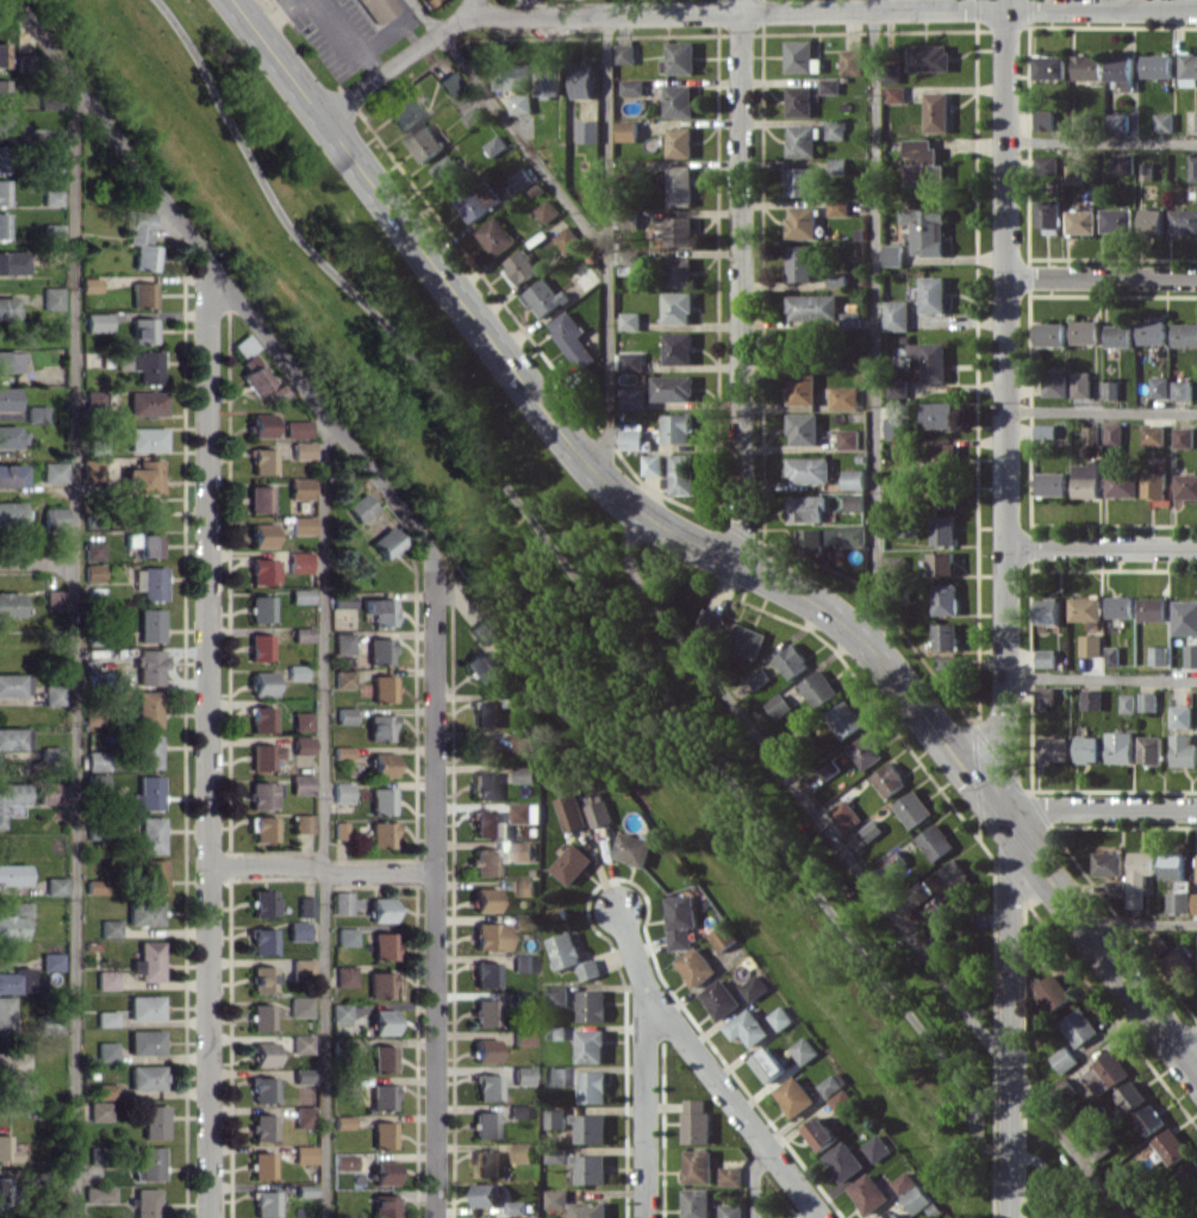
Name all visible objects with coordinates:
road: (1141, 4)
road: (472, 7)
building: (378, 8)
road: (742, 11)
road: (276, 15)
road: (351, 38)
building: (625, 52)
building: (2, 54)
building: (800, 56)
building: (679, 57)
building: (929, 57)
building: (852, 61)
building: (21, 62)
building: (1157, 65)
building: (1049, 67)
building: (1089, 67)
building: (1189, 69)
building: (1122, 70)
building: (512, 75)
building: (548, 79)
building: (581, 80)
building: (449, 82)
building: (632, 86)
building: (830, 86)
building: (2, 90)
building: (894, 93)
building: (679, 100)
building: (799, 100)
building: (520, 102)
building: (937, 111)
building: (404, 112)
building: (473, 115)
building: (1045, 119)
building: (1196, 120)
building: (1120, 121)
building: (1164, 121)
building: (4, 125)
road: (509, 127)
building: (836, 129)
building: (628, 130)
building: (588, 131)
building: (802, 140)
building: (680, 142)
building: (423, 143)
road: (1102, 143)
building: (1049, 162)
building: (0, 163)
building: (922, 163)
building: (1122, 163)
building: (837, 165)
building: (1192, 168)
building: (1146, 170)
building: (448, 173)
building: (1074, 174)
building: (520, 179)
building: (800, 181)
building: (680, 185)
building: (2, 190)
building: (51, 198)
building: (475, 201)
building: (838, 207)
building: (547, 211)
building: (1049, 213)
building: (1117, 219)
building: (1183, 219)
building: (1152, 220)
building: (803, 221)
building: (1081, 221)
building: (4, 225)
building: (51, 230)
building: (677, 230)
building: (927, 230)
building: (495, 236)
building: (566, 239)
building: (142, 241)
road: (607, 251)
building: (893, 254)
building: (12, 262)
building: (800, 262)
building: (629, 264)
building: (520, 266)
building: (679, 271)
road: (1102, 277)
building: (837, 279)
road: (224, 280)
road: (741, 280)
building: (89, 285)
building: (142, 294)
building: (934, 294)
building: (51, 298)
building: (544, 298)
building: (8, 307)
building: (678, 307)
building: (812, 307)
building: (899, 314)
building: (850, 319)
building: (630, 320)
building: (96, 321)
building: (142, 330)
building: (1085, 331)
road: (874, 332)
building: (1152, 332)
building: (1051, 333)
building: (1118, 335)
building: (1185, 335)
building: (572, 338)
building: (243, 344)
building: (678, 348)
building: (931, 360)
building: (7, 361)
building: (632, 361)
building: (141, 364)
building: (254, 374)
building: (1080, 383)
building: (1054, 385)
building: (673, 387)
building: (1159, 387)
building: (802, 388)
building: (1111, 389)
building: (1182, 389)
building: (7, 398)
building: (632, 398)
building: (844, 398)
building: (93, 399)
building: (145, 402)
road: (1103, 411)
building: (36, 413)
building: (940, 414)
building: (261, 424)
building: (894, 426)
building: (297, 427)
building: (677, 427)
building: (803, 429)
building: (1045, 430)
building: (1114, 433)
building: (1090, 435)
building: (1151, 435)
building: (11, 436)
building: (1184, 437)
building: (145, 438)
building: (631, 438)
building: (848, 438)
building: (301, 450)
building: (943, 457)
building: (262, 461)
building: (652, 464)
building: (91, 469)
building: (809, 469)
building: (52, 471)
building: (680, 474)
building: (11, 475)
building: (142, 477)
building: (854, 479)
building: (1085, 480)
building: (1051, 483)
building: (1122, 483)
building: (1186, 486)
building: (300, 487)
building: (258, 498)
building: (854, 501)
building: (360, 506)
building: (806, 508)
building: (11, 512)
building: (149, 512)
building: (54, 518)
building: (300, 524)
building: (943, 530)
building: (261, 535)
building: (829, 537)
building: (386, 542)
building: (145, 543)
road: (1103, 543)
road: (706, 544)
building: (93, 550)
road: (37, 561)
building: (299, 561)
building: (896, 562)
building: (942, 562)
building: (261, 570)
building: (93, 571)
building: (149, 582)
building: (300, 595)
building: (946, 598)
building: (54, 599)
building: (343, 600)
building: (10, 604)
building: (1120, 606)
building: (1085, 607)
building: (261, 608)
road: (1009, 608)
building: (1153, 608)
building: (380, 611)
building: (1047, 611)
building: (1185, 617)
road: (607, 619)
building: (710, 622)
building: (149, 624)
building: (482, 630)
building: (301, 633)
building: (946, 637)
building: (746, 639)
building: (342, 642)
building: (1090, 645)
building: (260, 647)
road: (74, 650)
building: (379, 650)
building: (1111, 655)
building: (1158, 655)
building: (1191, 655)
building: (1046, 657)
building: (791, 660)
building: (947, 661)
building: (148, 666)
building: (479, 666)
building: (295, 672)
road: (1103, 676)
building: (343, 677)
building: (758, 677)
building: (262, 682)
building: (13, 683)
building: (382, 688)
building: (818, 688)
building: (52, 694)
building: (1043, 695)
building: (1091, 699)
building: (1147, 701)
building: (1127, 702)
building: (778, 705)
building: (146, 707)
building: (486, 712)
building: (344, 716)
building: (1179, 716)
building: (261, 718)
building: (843, 718)
building: (301, 720)
building: (379, 726)
building: (13, 737)
road: (206, 737)
building: (525, 741)
building: (301, 744)
building: (1120, 747)
building: (484, 749)
building: (1054, 749)
building: (1089, 749)
building: (1151, 749)
building: (865, 750)
building: (1183, 750)
building: (146, 751)
building: (49, 752)
building: (341, 752)
building: (263, 755)
building: (95, 760)
building: (381, 764)
building: (524, 774)
building: (889, 779)
building: (94, 782)
building: (300, 783)
building: (485, 785)
building: (342, 792)
building: (46, 793)
building: (145, 793)
building: (12, 794)
building: (260, 795)
building: (381, 800)
building: (597, 808)
building: (912, 808)
road: (1097, 810)
building: (525, 812)
building: (571, 812)
road: (322, 814)
building: (844, 814)
building: (303, 823)
building: (485, 823)
building: (262, 827)
building: (338, 830)
building: (872, 830)
building: (381, 833)
building: (148, 835)
building: (935, 842)
building: (634, 849)
building: (500, 855)
building: (572, 863)
building: (1108, 863)
building: (1173, 866)
road: (319, 868)
road: (859, 870)
building: (12, 874)
building: (151, 875)
building: (1139, 876)
building: (948, 879)
building: (54, 886)
building: (94, 886)
building: (524, 887)
building: (1115, 888)
road: (434, 891)
building: (485, 899)
building: (344, 901)
building: (1178, 901)
building: (262, 902)
building: (1195, 902)
building: (304, 906)
building: (380, 908)
building: (143, 912)
building: (680, 919)
building: (13, 920)
building: (522, 922)
road: (1140, 924)
building: (108, 927)
building: (297, 930)
building: (490, 935)
building: (345, 936)
building: (723, 937)
building: (262, 941)
building: (1158, 944)
building: (382, 945)
building: (572, 955)
building: (148, 960)
building: (50, 961)
building: (522, 962)
building: (1177, 963)
building: (696, 966)
building: (301, 967)
building: (486, 974)
building: (344, 975)
building: (105, 979)
building: (261, 979)
building: (14, 980)
building: (379, 983)
building: (754, 987)
building: (1053, 991)
building: (556, 995)
building: (721, 998)
building: (592, 1005)
building: (144, 1006)
building: (299, 1006)
building: (5, 1011)
building: (339, 1012)
building: (486, 1012)
building: (261, 1017)
building: (780, 1017)
building: (105, 1018)
building: (382, 1022)
building: (1078, 1026)
building: (747, 1028)
building: (556, 1032)
building: (522, 1037)
road: (1184, 1038)
building: (144, 1041)
building: (300, 1043)
building: (591, 1045)
building: (485, 1049)
building: (105, 1050)
building: (804, 1050)
building: (263, 1054)
building: (382, 1057)
building: (1064, 1058)
road: (644, 1062)
building: (12, 1064)
building: (767, 1064)
building: (1110, 1067)
building: (522, 1074)
building: (301, 1075)
building: (555, 1075)
building: (145, 1076)
building: (831, 1083)
building: (592, 1086)
building: (487, 1087)
building: (20, 1088)
building: (262, 1088)
building: (105, 1089)
building: (794, 1095)
building: (1130, 1095)
building: (382, 1097)
building: (841, 1099)
road: (732, 1100)
building: (98, 1110)
building: (518, 1111)
building: (303, 1117)
building: (555, 1117)
building: (1149, 1119)
building: (152, 1122)
building: (342, 1122)
building: (696, 1122)
building: (485, 1124)
building: (262, 1126)
building: (590, 1128)
building: (819, 1132)
building: (382, 1133)
building: (1171, 1145)
building: (875, 1148)
building: (6, 1149)
building: (1079, 1150)
building: (522, 1151)
building: (95, 1154)
building: (303, 1154)
building: (555, 1155)
building: (344, 1160)
building: (843, 1161)
building: (149, 1162)
building: (486, 1162)
building: (261, 1164)
building: (698, 1166)
building: (590, 1168)
building: (384, 1172)
building: (1190, 1173)
building: (730, 1175)
road: (755, 1180)
building: (904, 1181)
building: (4, 1188)
building: (304, 1189)
building: (868, 1192)
building: (98, 1193)
building: (486, 1194)
building: (556, 1199)
building: (916, 1199)
building: (144, 1203)
building: (264, 1203)
building: (697, 1203)
building: (382, 1206)
building: (517, 1206)
building: (588, 1210)
building: (730, 1210)
building: (893, 1216)
building: (511, 1217)

